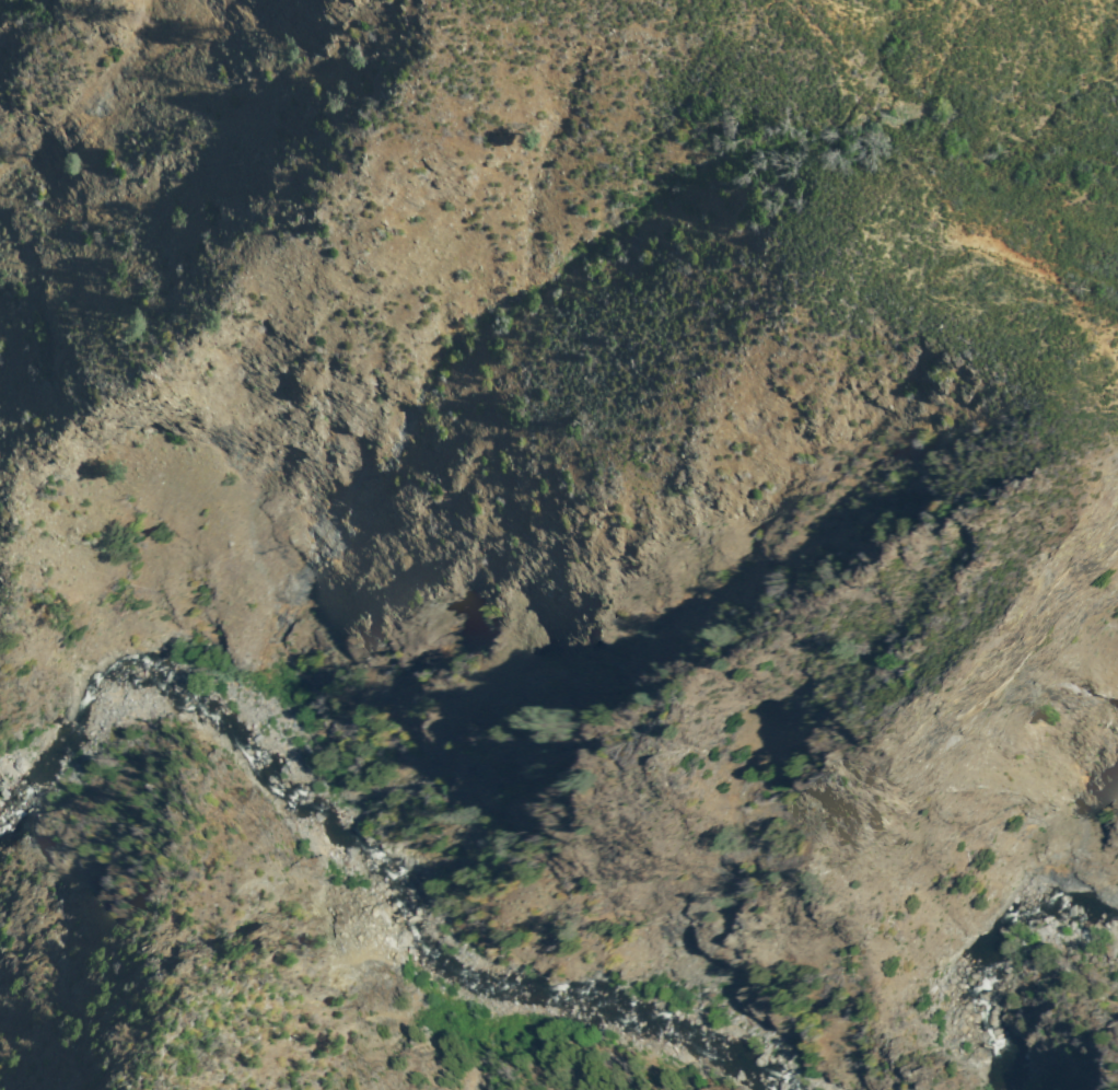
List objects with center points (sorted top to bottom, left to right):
river: (336, 853)
river: (964, 931)

